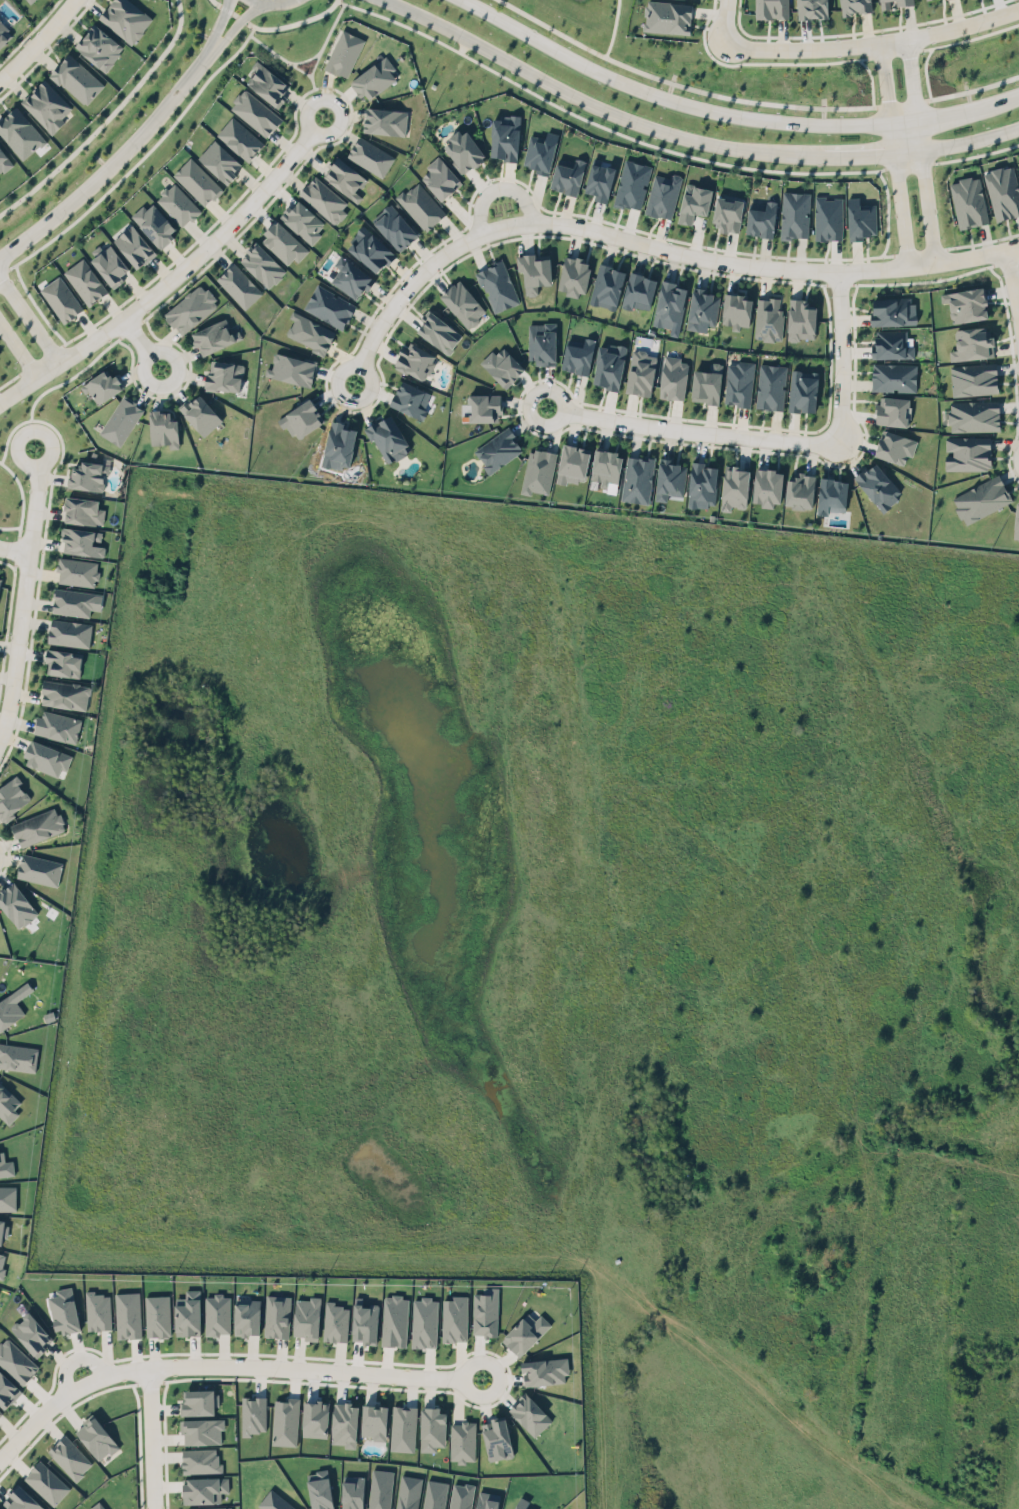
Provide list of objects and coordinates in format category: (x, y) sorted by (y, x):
building: (29, 1)
road: (216, 2)
building: (893, 2)
building: (855, 6)
building: (772, 9)
building: (816, 10)
road: (235, 14)
park: (589, 15)
building: (125, 19)
building: (667, 19)
road: (724, 21)
road: (236, 23)
road: (297, 23)
road: (218, 25)
road: (605, 26)
road: (851, 32)
building: (4, 33)
road: (38, 40)
road: (872, 40)
road: (945, 43)
building: (99, 46)
building: (344, 53)
road: (886, 58)
road: (769, 63)
building: (77, 78)
building: (374, 78)
building: (268, 84)
road: (680, 84)
road: (973, 88)
road: (1013, 94)
road: (666, 98)
road: (902, 101)
road: (591, 104)
building: (47, 105)
road: (949, 111)
building: (255, 112)
road: (103, 113)
building: (385, 121)
road: (595, 121)
road: (930, 129)
building: (20, 132)
road: (882, 135)
building: (240, 138)
road: (970, 141)
building: (502, 143)
road: (920, 149)
building: (460, 153)
building: (536, 153)
road: (893, 153)
road: (976, 153)
building: (370, 156)
road: (869, 156)
building: (4, 161)
building: (219, 161)
road: (112, 162)
road: (909, 163)
building: (343, 172)
building: (1018, 174)
building: (564, 179)
building: (197, 181)
building: (437, 181)
building: (597, 185)
building: (628, 187)
road: (496, 188)
building: (999, 190)
building: (657, 197)
building: (964, 198)
building: (324, 199)
building: (178, 204)
building: (693, 206)
building: (417, 208)
road: (887, 212)
building: (726, 215)
building: (791, 216)
road: (1017, 217)
road: (609, 220)
building: (856, 220)
building: (303, 221)
building: (758, 221)
building: (823, 221)
building: (154, 224)
building: (392, 231)
road: (984, 236)
road: (982, 241)
building: (283, 243)
road: (649, 245)
building: (134, 246)
road: (920, 248)
building: (368, 252)
building: (106, 260)
road: (948, 260)
road: (1002, 261)
building: (262, 264)
road: (882, 268)
building: (531, 273)
road: (173, 276)
building: (83, 278)
building: (571, 278)
building: (345, 279)
road: (1012, 282)
road: (839, 284)
building: (239, 285)
building: (602, 288)
building: (491, 290)
building: (636, 293)
road: (1017, 295)
road: (991, 296)
building: (61, 299)
building: (961, 300)
building: (324, 306)
building: (457, 306)
building: (665, 307)
building: (190, 308)
building: (885, 312)
building: (697, 313)
building: (734, 313)
road: (29, 319)
building: (796, 321)
building: (762, 322)
building: (303, 333)
building: (214, 336)
building: (435, 336)
building: (968, 339)
road: (1003, 342)
road: (141, 343)
building: (537, 345)
building: (886, 347)
road: (18, 351)
building: (574, 357)
road: (842, 357)
building: (410, 363)
building: (497, 368)
building: (607, 369)
road: (1015, 370)
road: (1006, 371)
building: (288, 373)
building: (636, 375)
building: (225, 376)
building: (972, 376)
building: (889, 379)
building: (669, 380)
building: (734, 385)
building: (102, 386)
building: (701, 386)
building: (766, 389)
building: (798, 394)
building: (404, 400)
road: (1007, 407)
building: (482, 409)
building: (969, 413)
building: (201, 414)
building: (889, 415)
building: (121, 418)
building: (298, 422)
road: (766, 425)
building: (163, 428)
road: (695, 431)
building: (383, 438)
road: (1003, 444)
building: (335, 448)
building: (890, 449)
building: (492, 451)
building: (965, 451)
building: (569, 467)
building: (604, 470)
road: (1010, 471)
building: (87, 472)
building: (532, 473)
building: (632, 481)
building: (667, 481)
building: (699, 486)
building: (733, 487)
building: (875, 488)
building: (767, 490)
building: (796, 493)
building: (980, 494)
building: (829, 497)
building: (82, 511)
building: (1013, 520)
building: (82, 541)
road: (15, 548)
building: (77, 571)
building: (0, 579)
road: (24, 592)
building: (74, 601)
building: (70, 632)
building: (63, 662)
building: (65, 694)
building: (58, 726)
building: (47, 758)
building: (12, 797)
building: (38, 826)
building: (38, 867)
building: (17, 901)
building: (9, 1007)
building: (17, 1055)
building: (6, 1166)
building: (7, 1195)
building: (2, 1230)
building: (2, 1265)
road: (883, 1271)
road: (626, 1296)
building: (64, 1310)
building: (98, 1310)
building: (216, 1311)
building: (485, 1311)
building: (188, 1313)
building: (306, 1313)
building: (128, 1314)
building: (158, 1315)
building: (277, 1316)
building: (247, 1317)
building: (454, 1318)
building: (395, 1320)
building: (365, 1321)
building: (335, 1322)
building: (424, 1322)
building: (29, 1328)
building: (526, 1333)
building: (15, 1359)
road: (462, 1363)
road: (128, 1370)
building: (545, 1371)
road: (301, 1373)
building: (7, 1388)
building: (197, 1398)
building: (0, 1411)
building: (251, 1411)
building: (530, 1413)
building: (315, 1418)
building: (285, 1421)
building: (374, 1421)
building: (344, 1424)
building: (403, 1428)
building: (433, 1428)
building: (202, 1430)
building: (494, 1436)
building: (97, 1438)
building: (462, 1441)
building: (70, 1457)
building: (199, 1458)
building: (45, 1480)
building: (204, 1489)
building: (320, 1489)
building: (380, 1489)
building: (353, 1492)
building: (409, 1492)
building: (435, 1494)
building: (461, 1495)
road: (1017, 1496)
building: (21, 1499)
building: (487, 1500)
building: (275, 1501)
building: (522, 1503)
building: (98, 1504)
building: (208, 1506)
building: (0, 1508)

